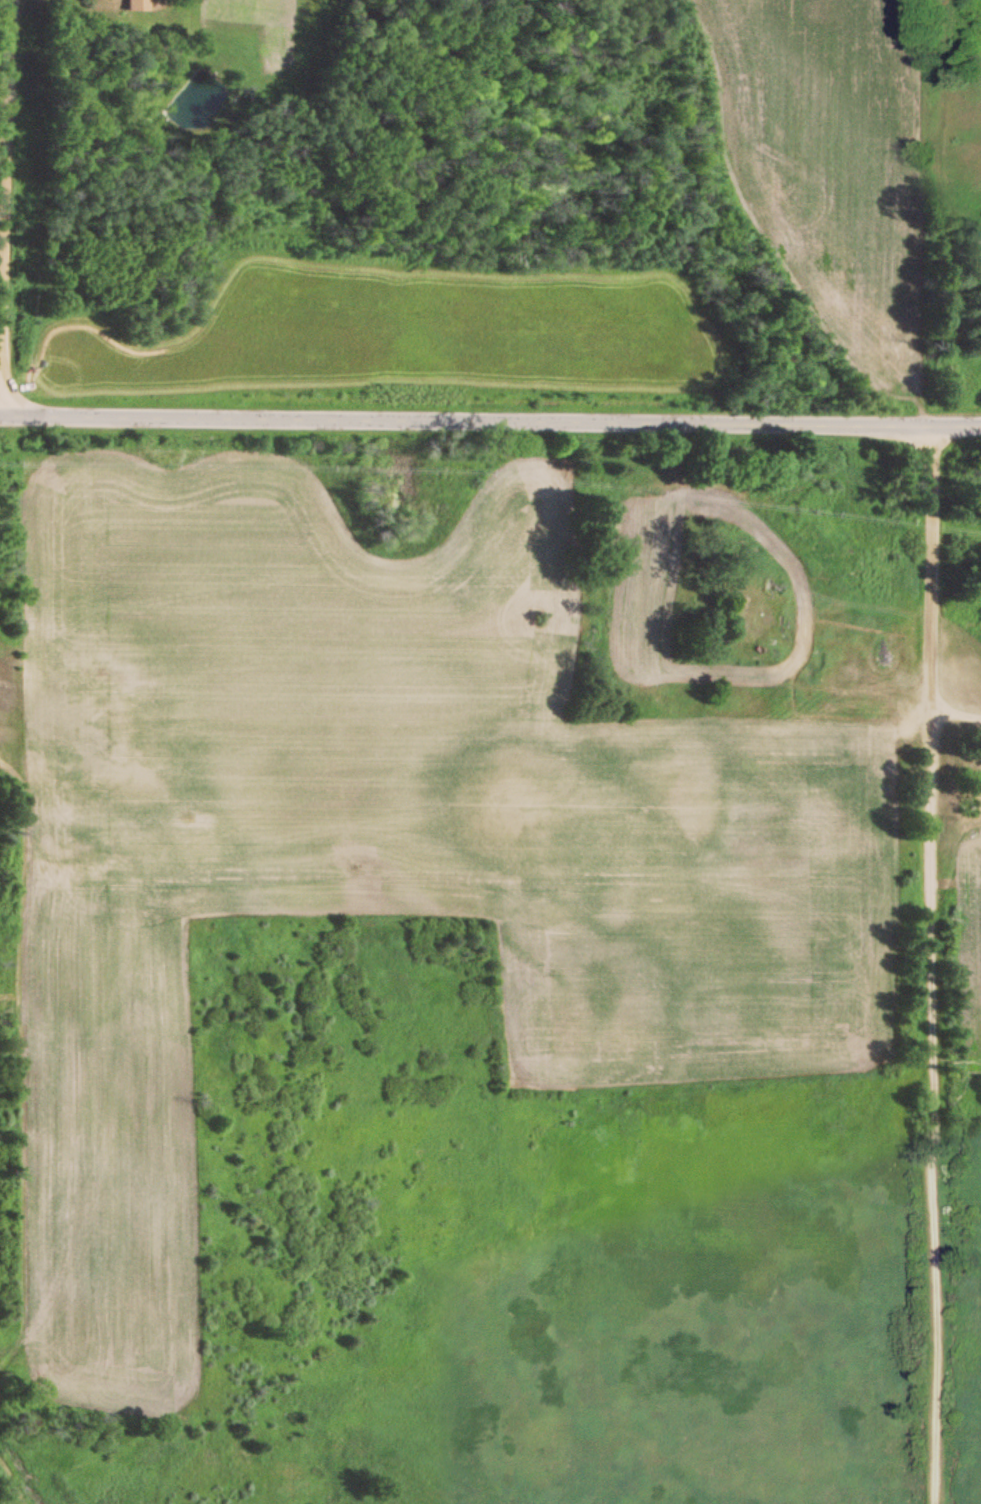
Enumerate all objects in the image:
building: (134, 6)
road: (5, 176)
road: (490, 421)
road: (928, 965)

